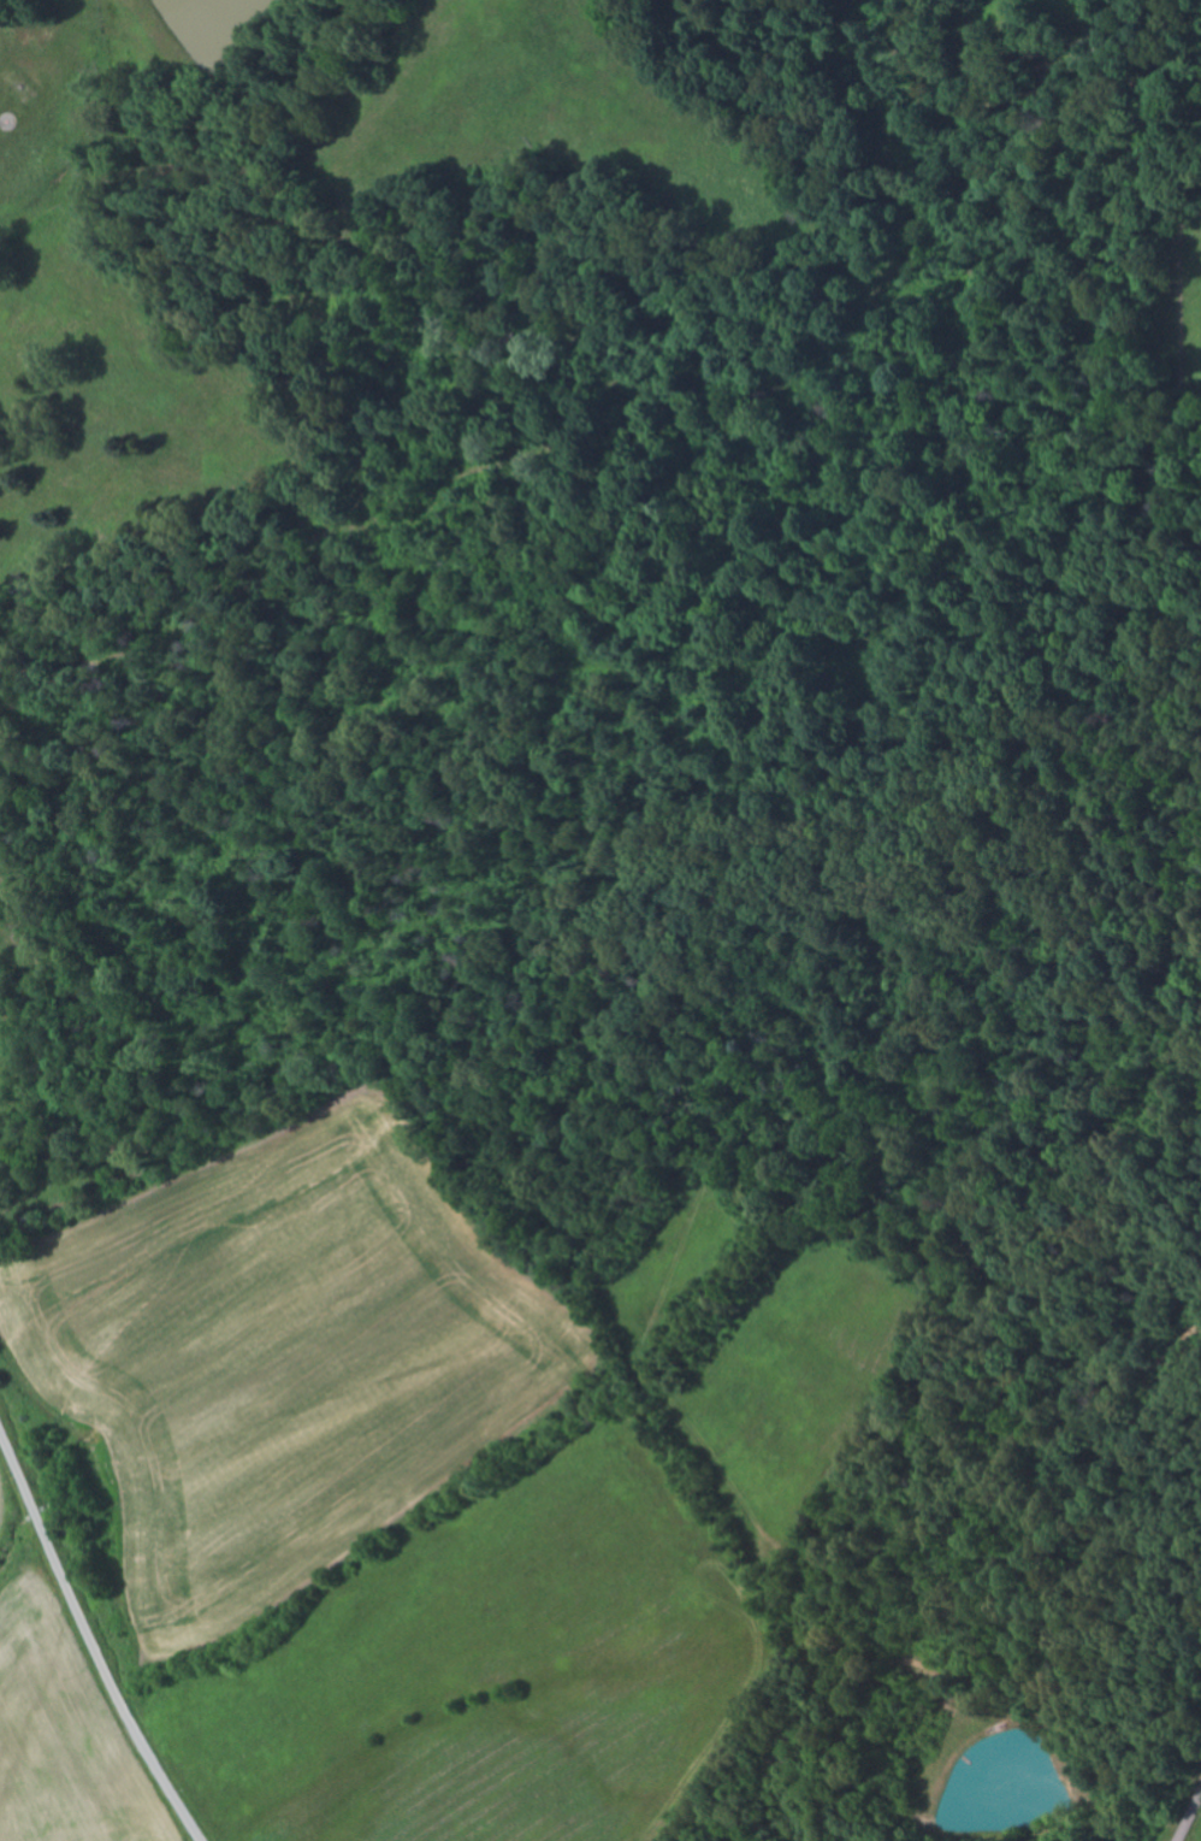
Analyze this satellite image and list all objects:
road: (89, 1640)
road: (1189, 1817)

